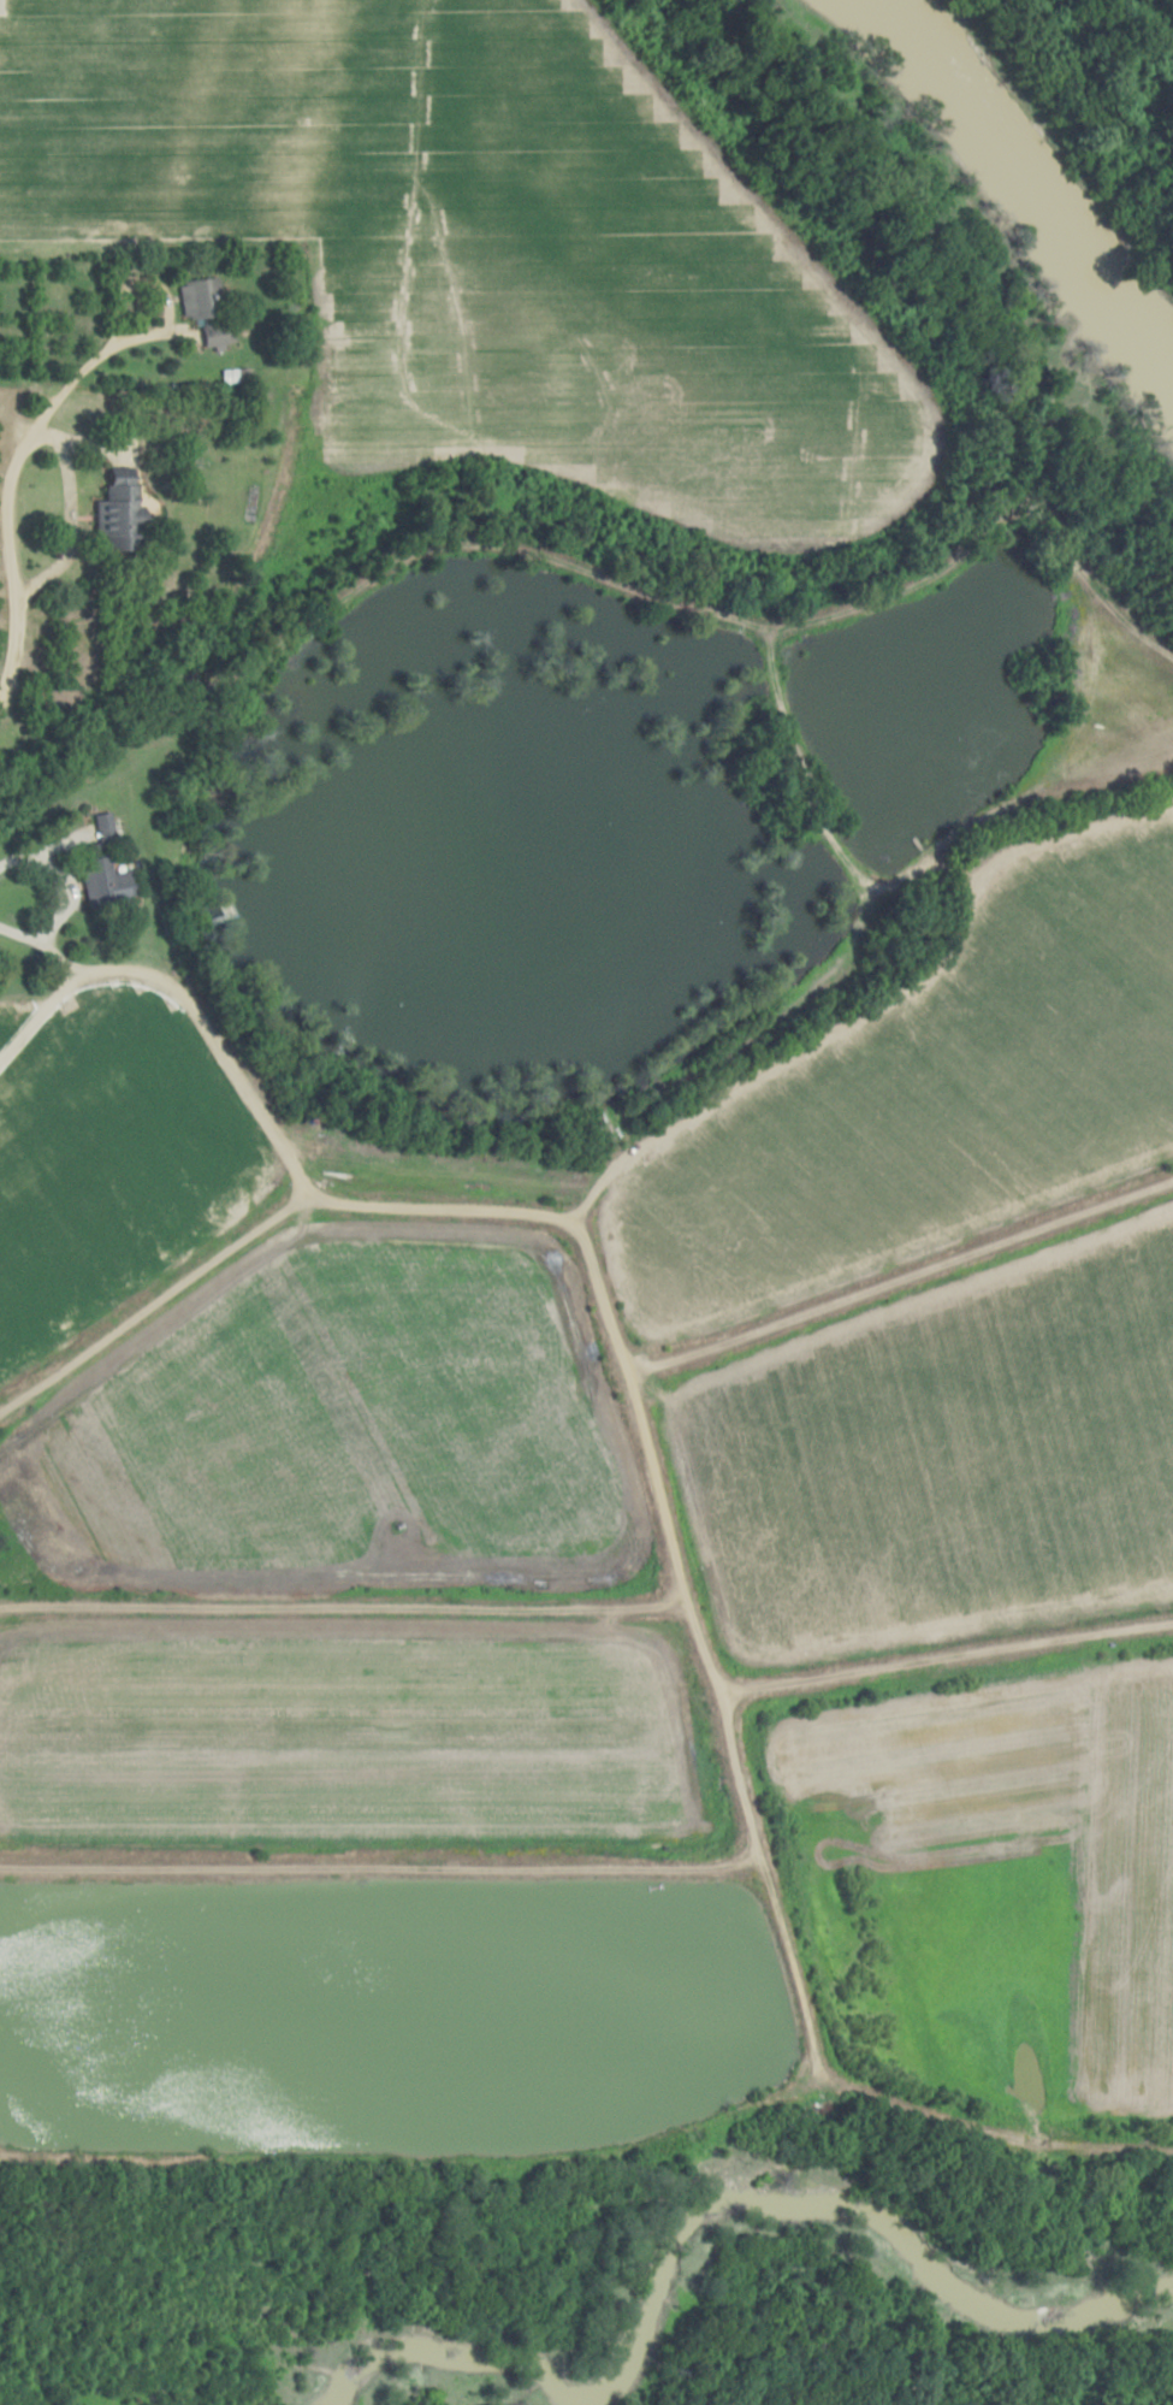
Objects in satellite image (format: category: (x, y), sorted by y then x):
river: (1018, 191)
building: (199, 299)
building: (220, 333)
road: (18, 469)
building: (123, 514)
building: (107, 831)
building: (108, 882)
road: (201, 1005)
road: (43, 1020)
road: (606, 1164)
road: (596, 2147)

